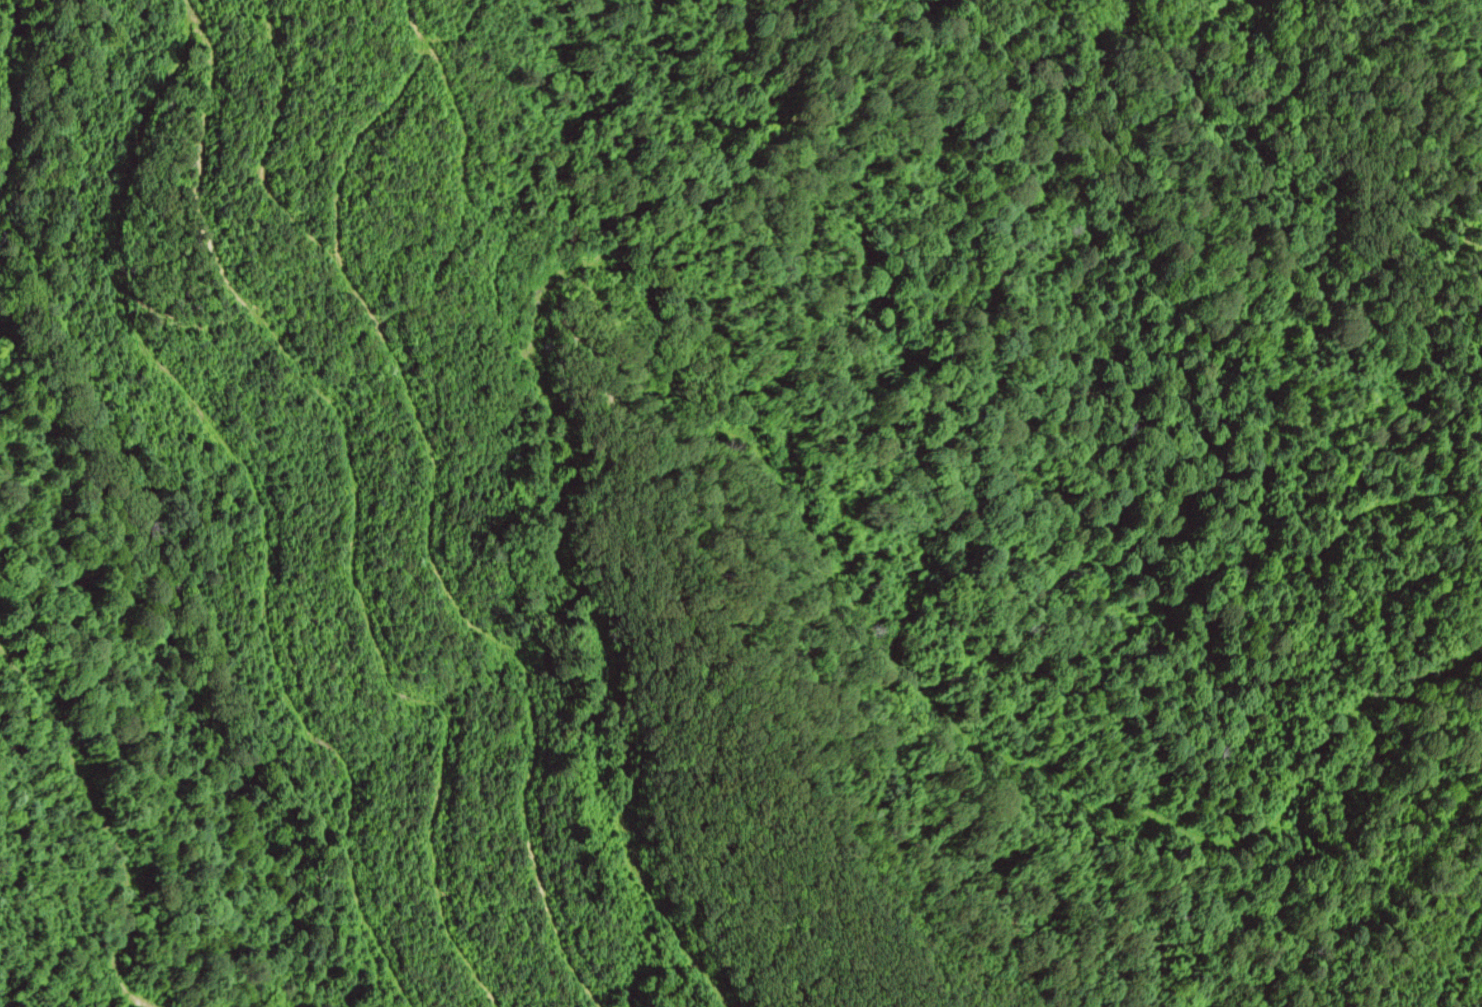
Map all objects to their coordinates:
road: (110, 819)

